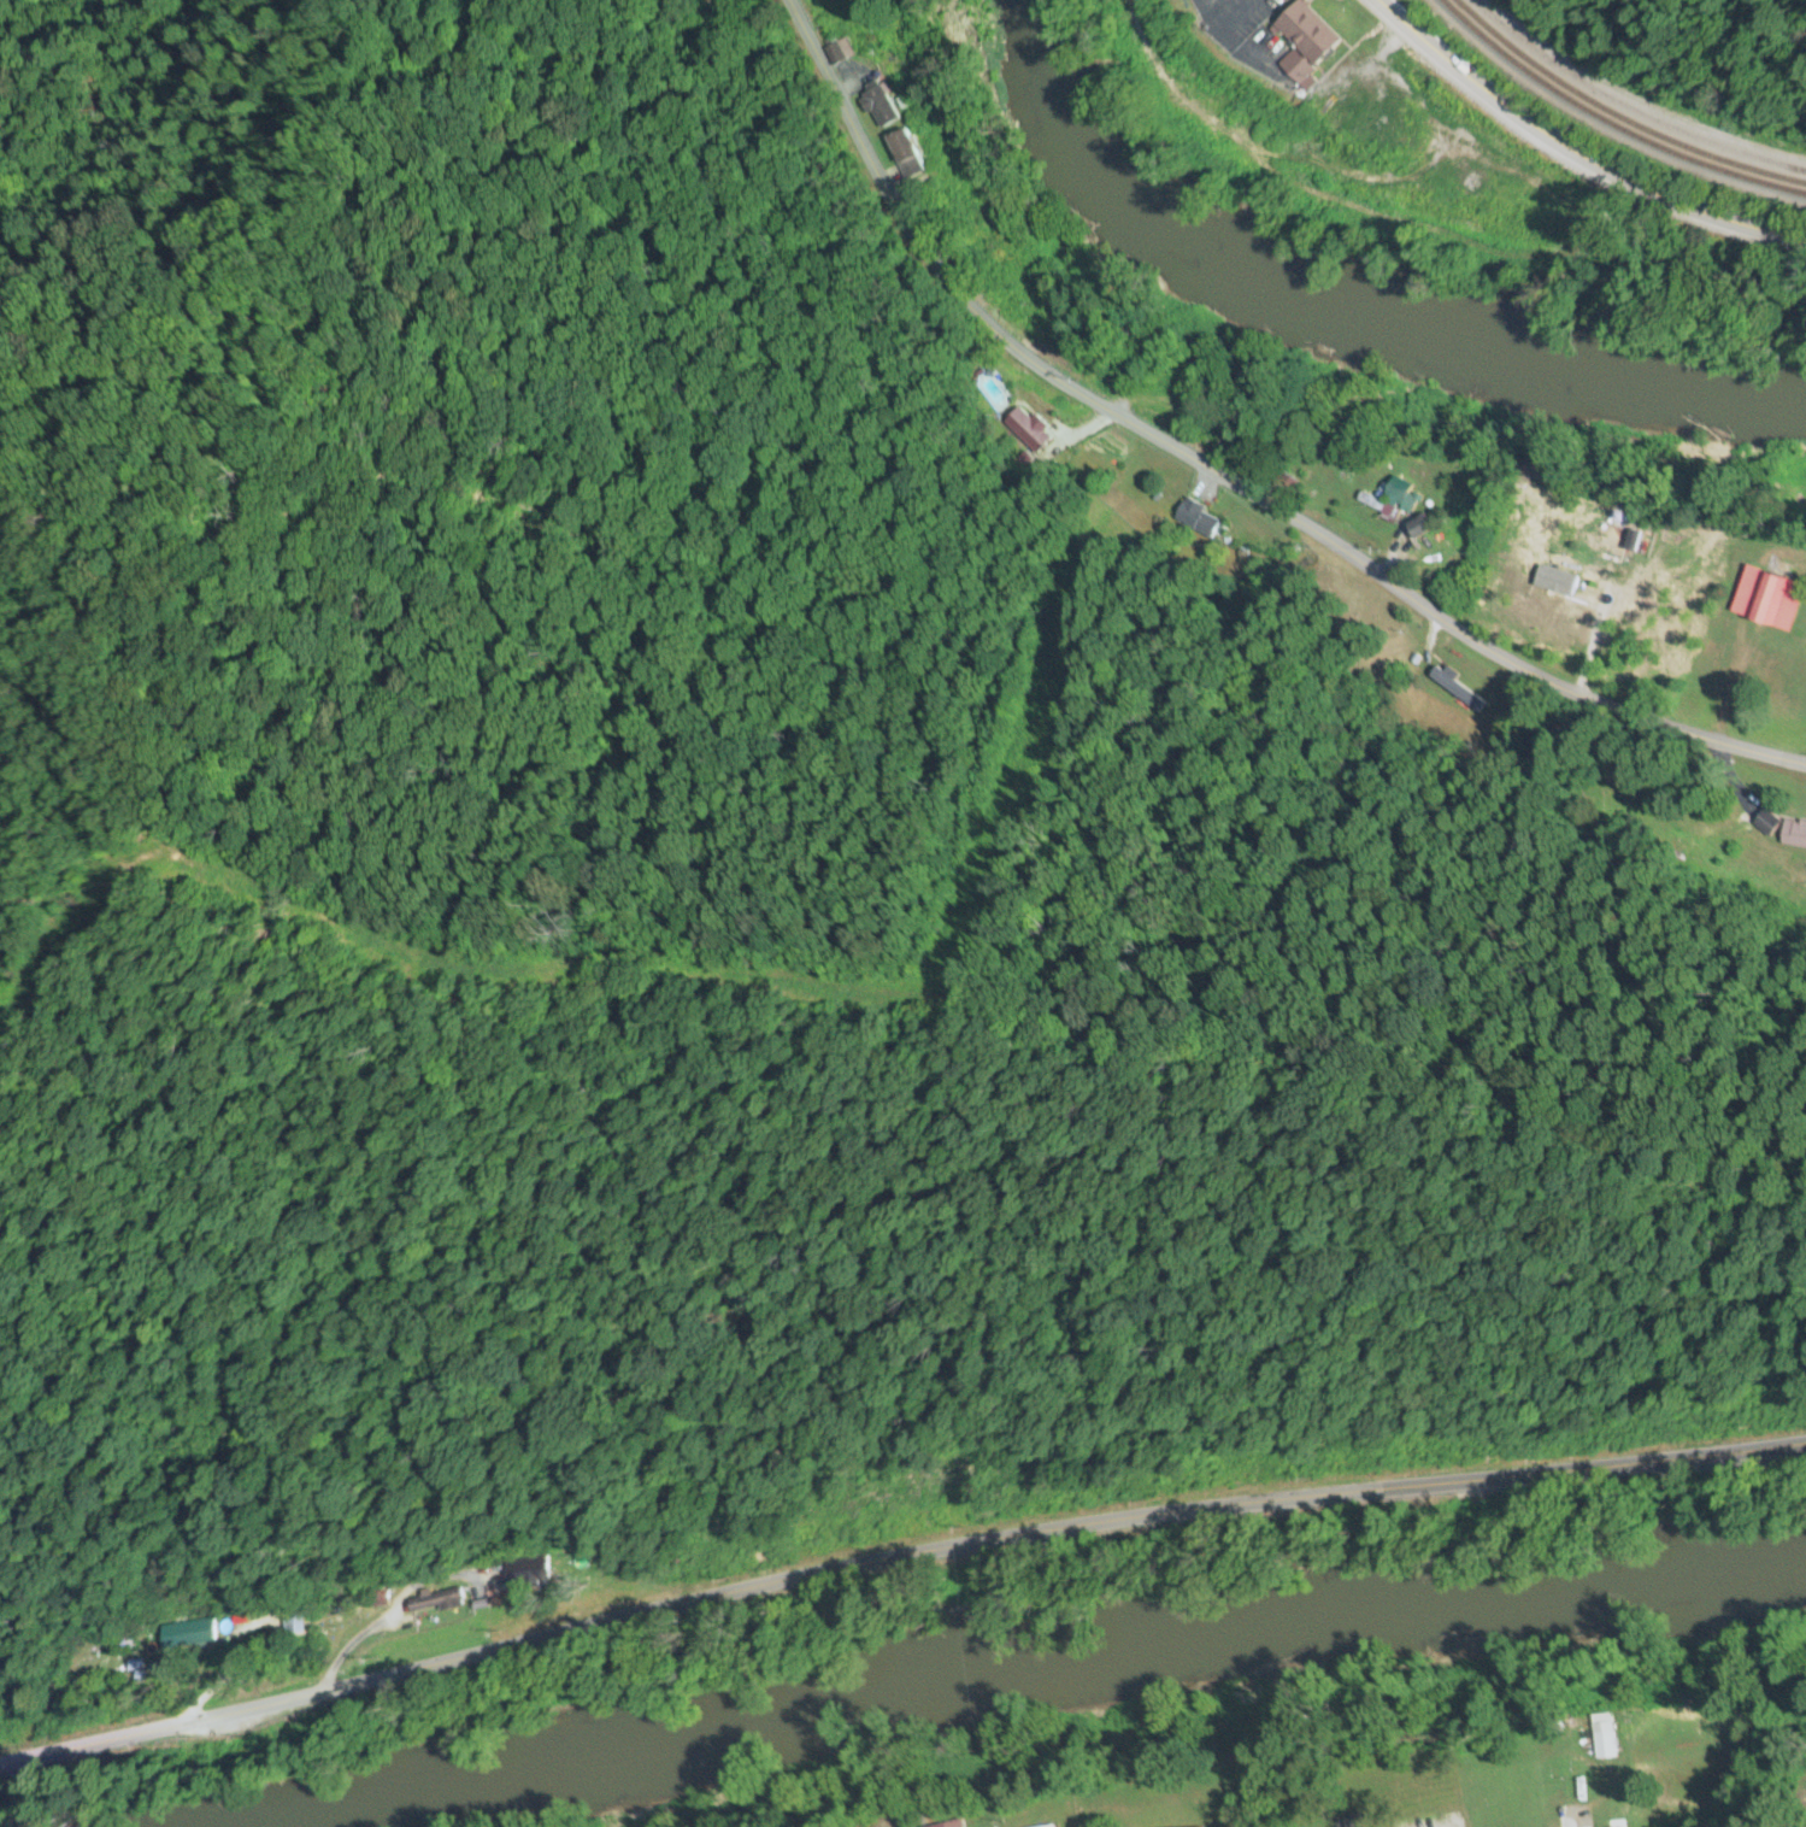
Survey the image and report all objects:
building: (1305, 41)
building: (881, 93)
railway: (1619, 110)
road: (1572, 154)
river: (1359, 306)
road: (1219, 477)
building: (1389, 504)
building: (1420, 529)
building: (1216, 535)
building: (1612, 536)
building: (1635, 542)
building: (1769, 598)
road: (895, 1555)
building: (526, 1574)
building: (434, 1604)
building: (199, 1635)
river: (1012, 1679)
building: (1604, 1740)
building: (1413, 1794)
road: (1387, 1804)
road: (1567, 1820)
building: (1352, 1821)
building: (951, 1825)

